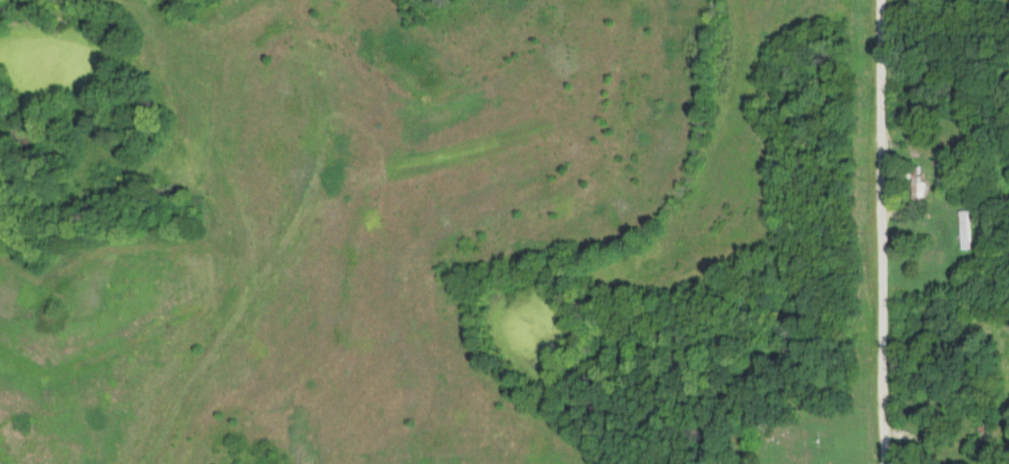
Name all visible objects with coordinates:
building: (917, 183)
building: (964, 228)
road: (881, 231)
park: (809, 425)

